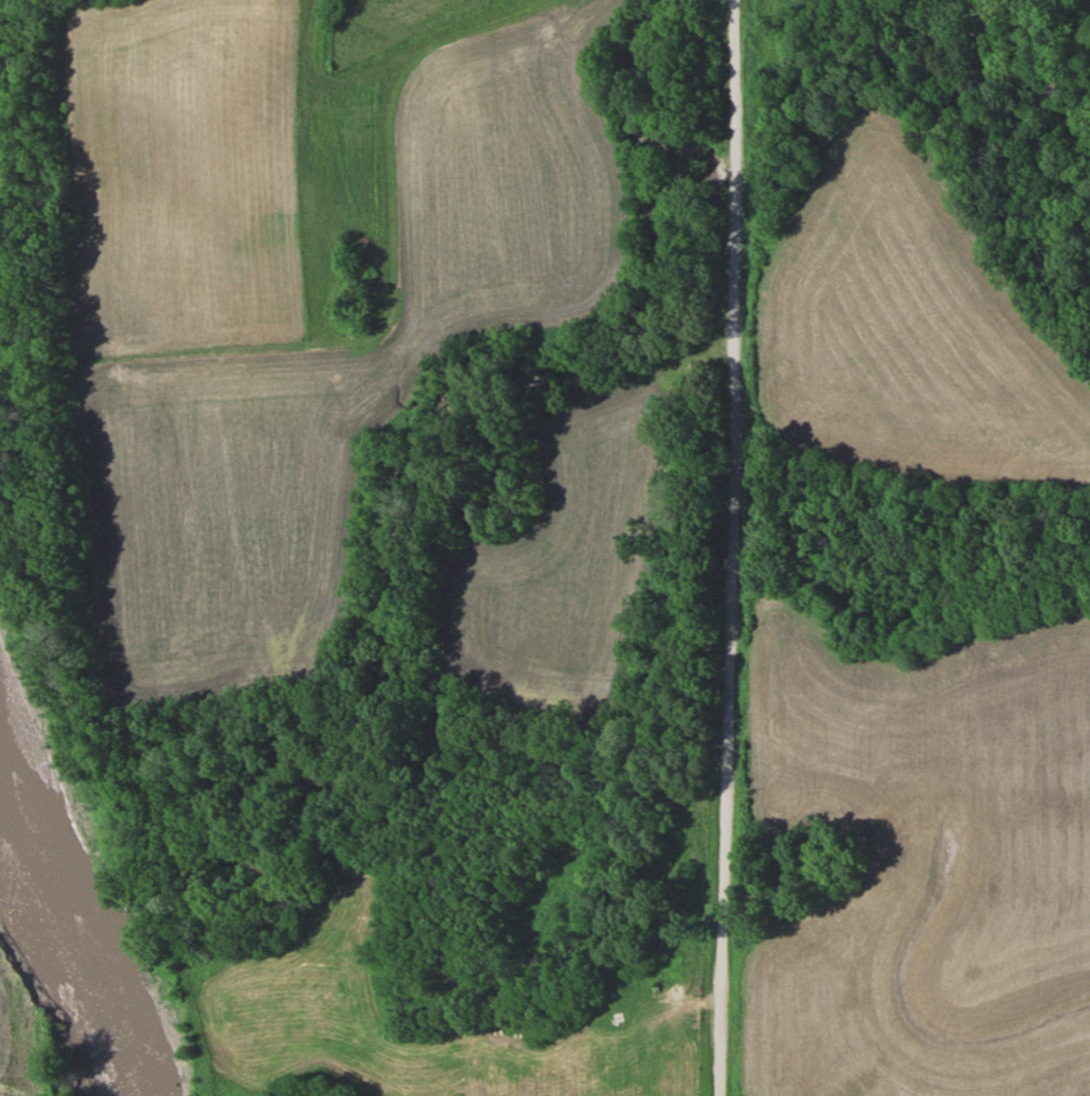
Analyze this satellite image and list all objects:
road: (713, 547)
river: (76, 898)

